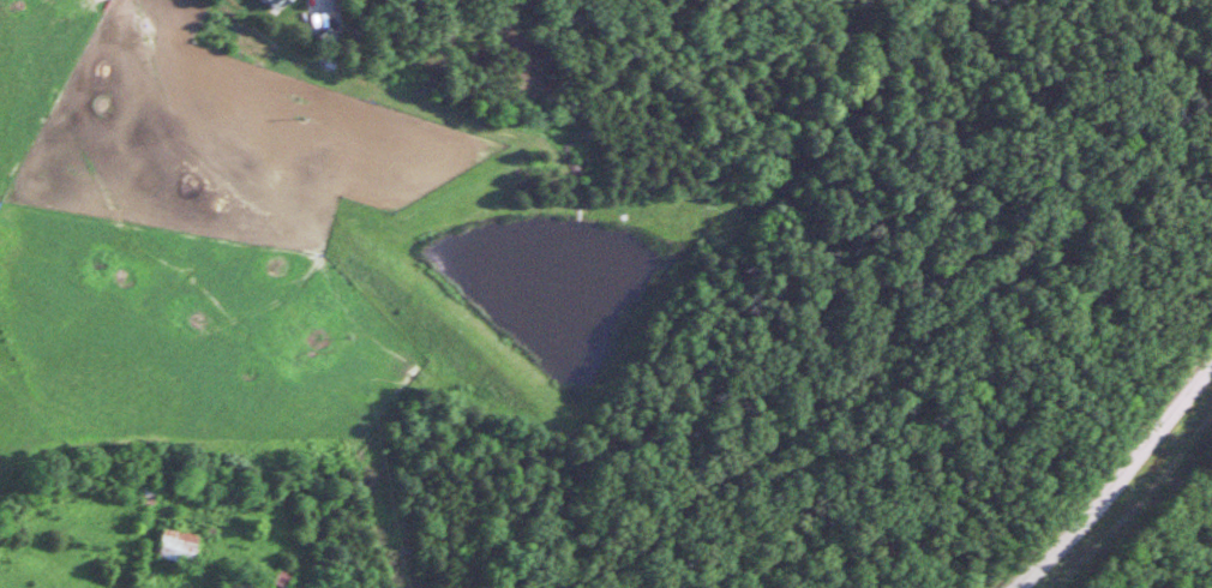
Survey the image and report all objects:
building: (278, 4)
road: (1120, 481)
building: (175, 545)
building: (278, 577)

